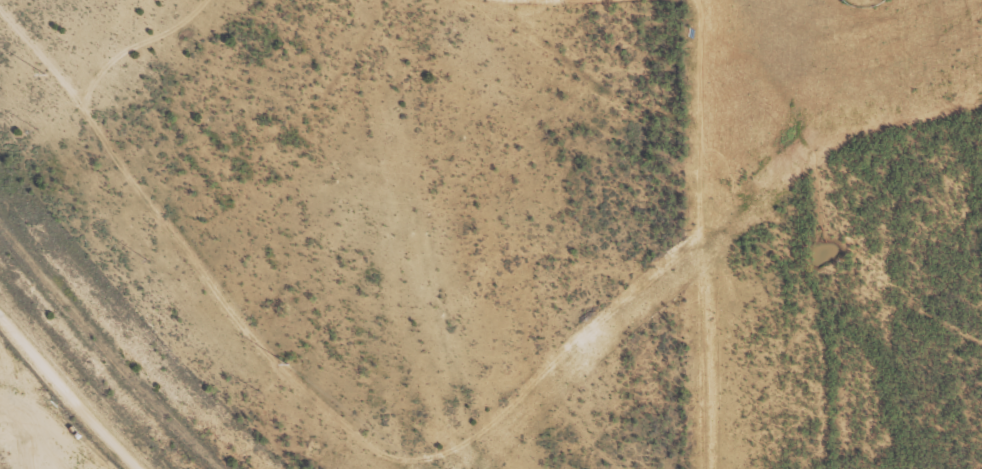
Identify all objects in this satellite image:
road: (9, 345)
road: (70, 391)

